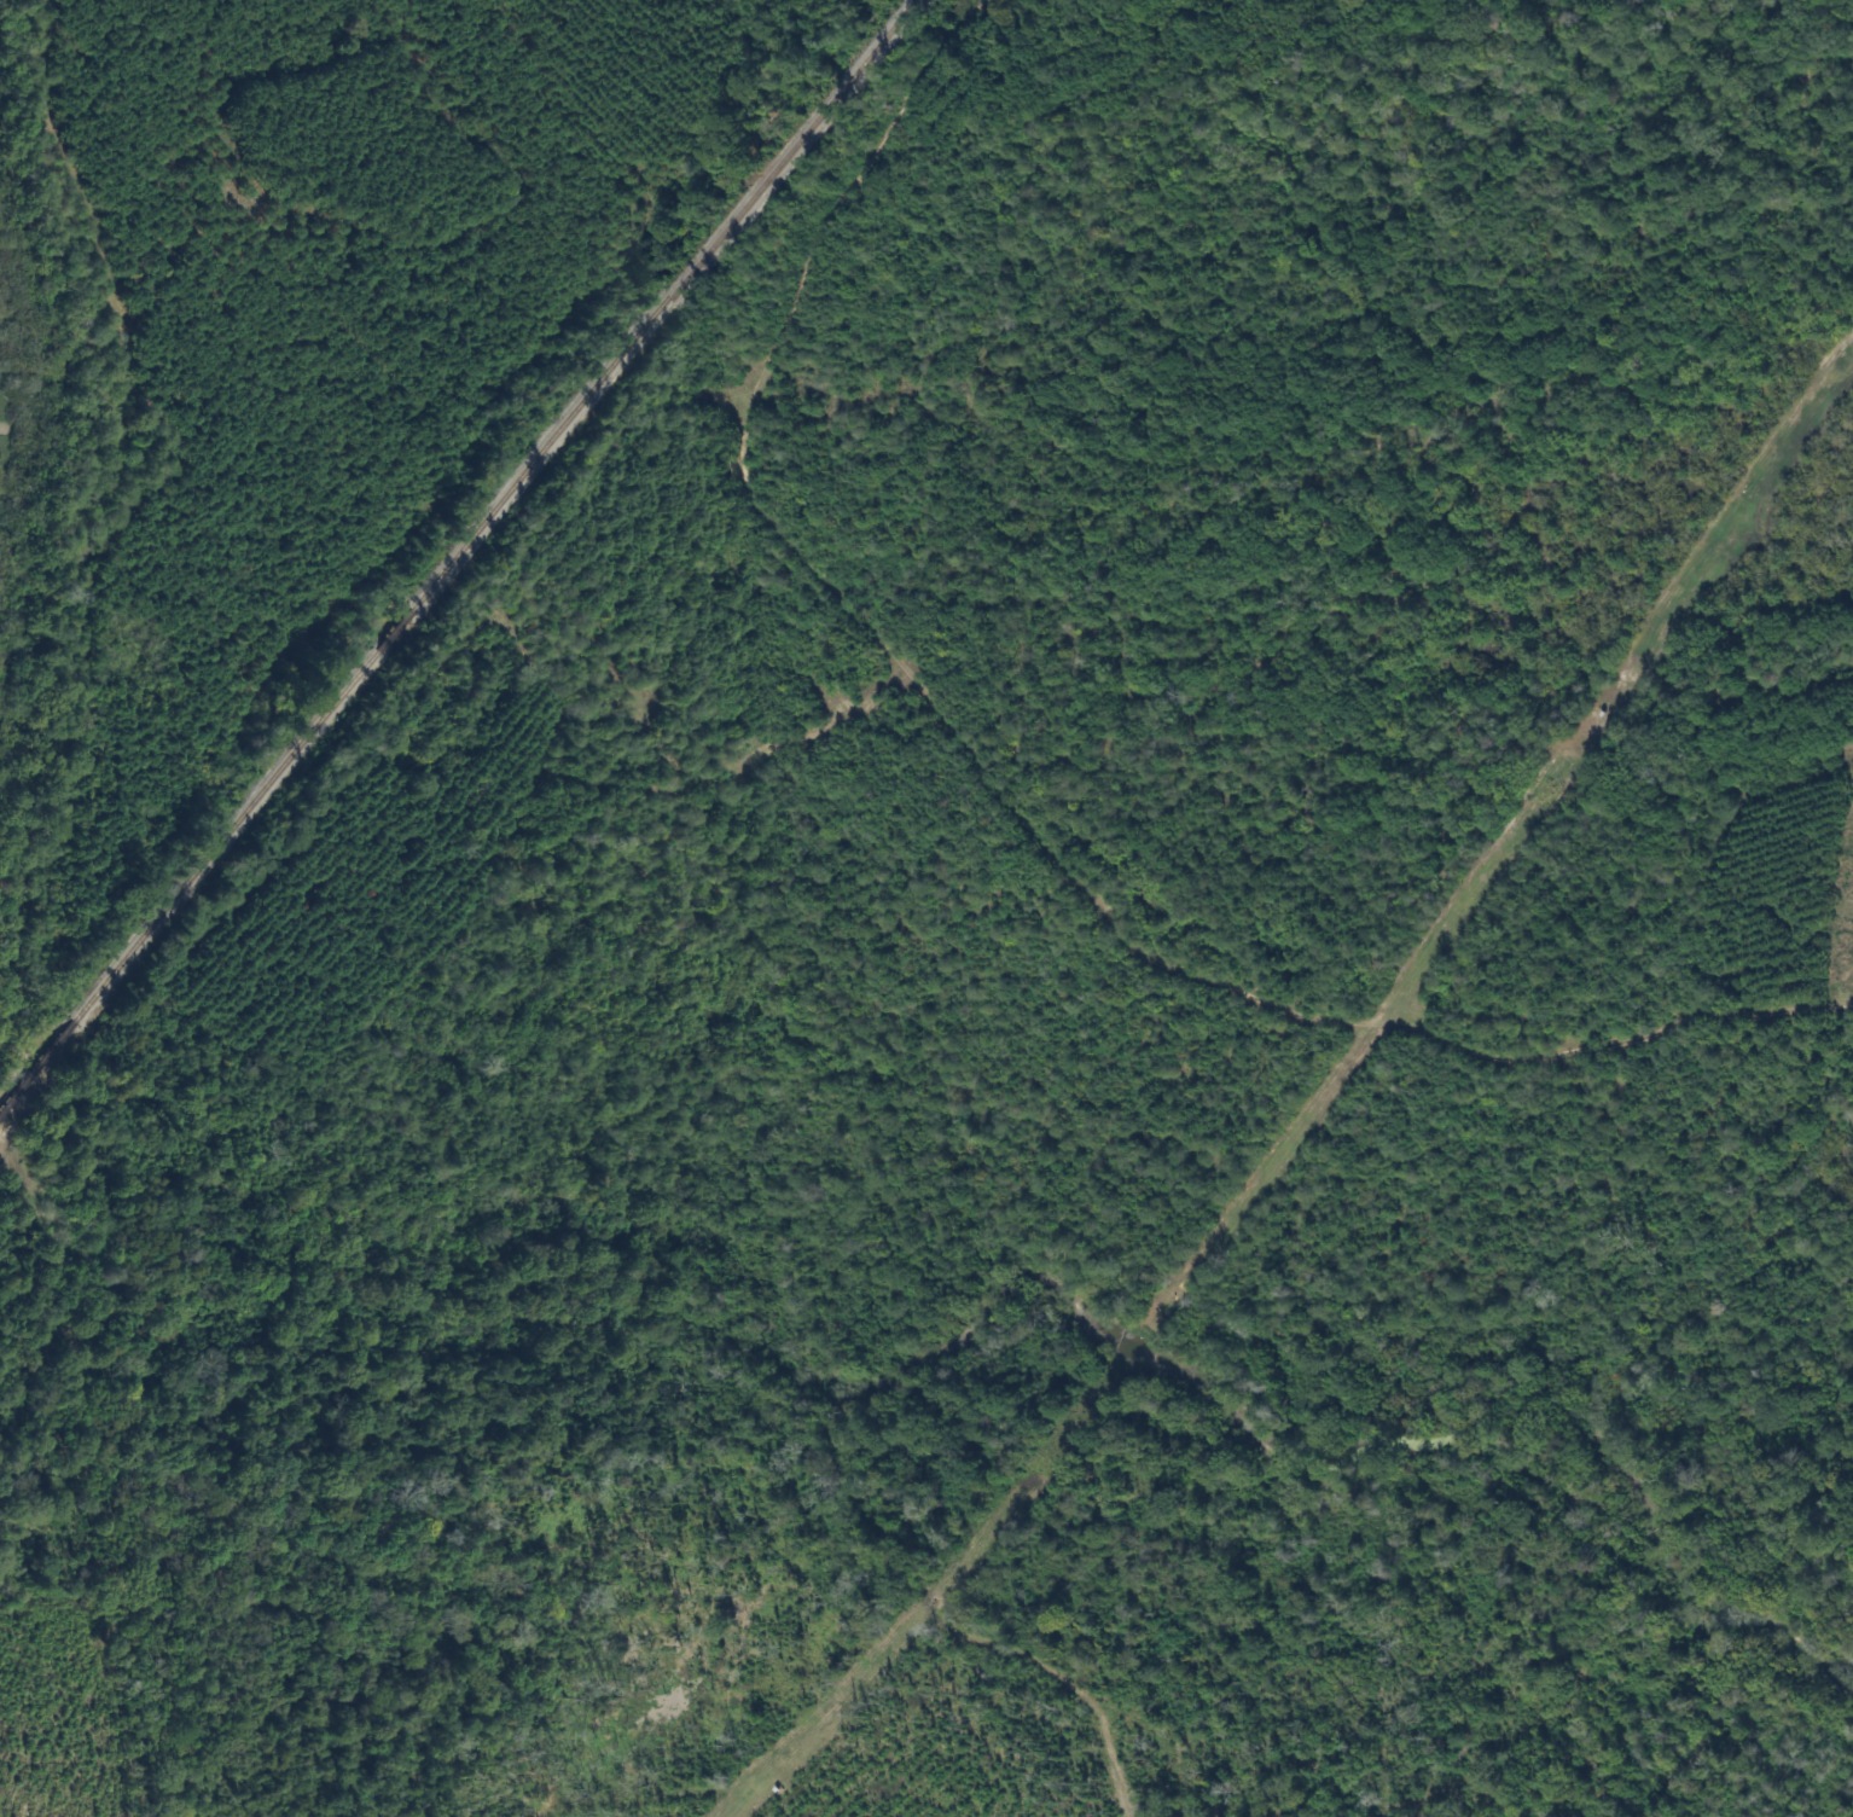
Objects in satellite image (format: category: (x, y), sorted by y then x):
railway: (455, 556)
road: (997, 788)

